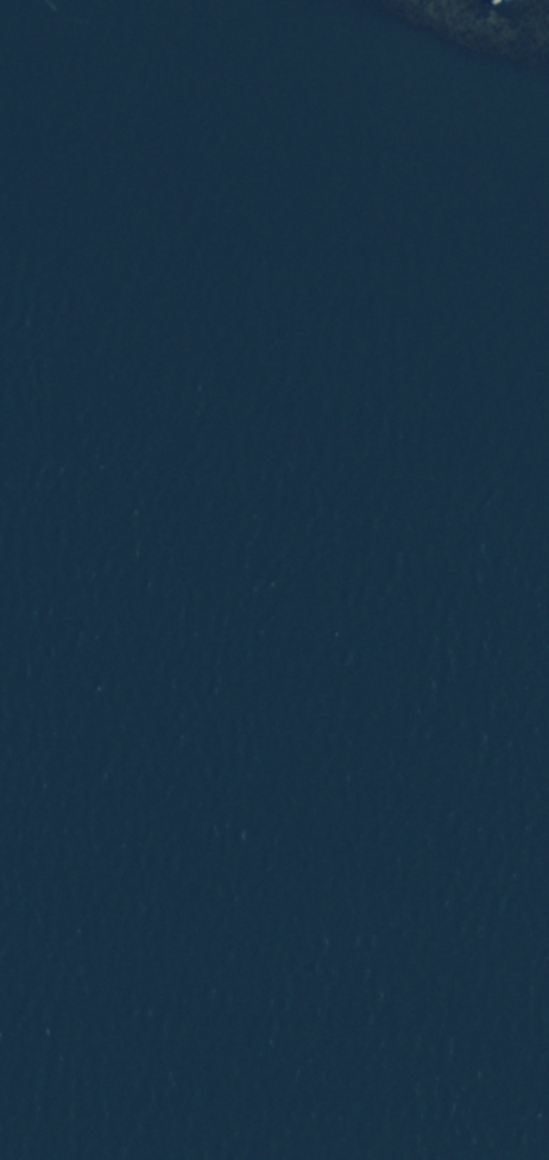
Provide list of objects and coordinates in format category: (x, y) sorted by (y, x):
river: (272, 823)

